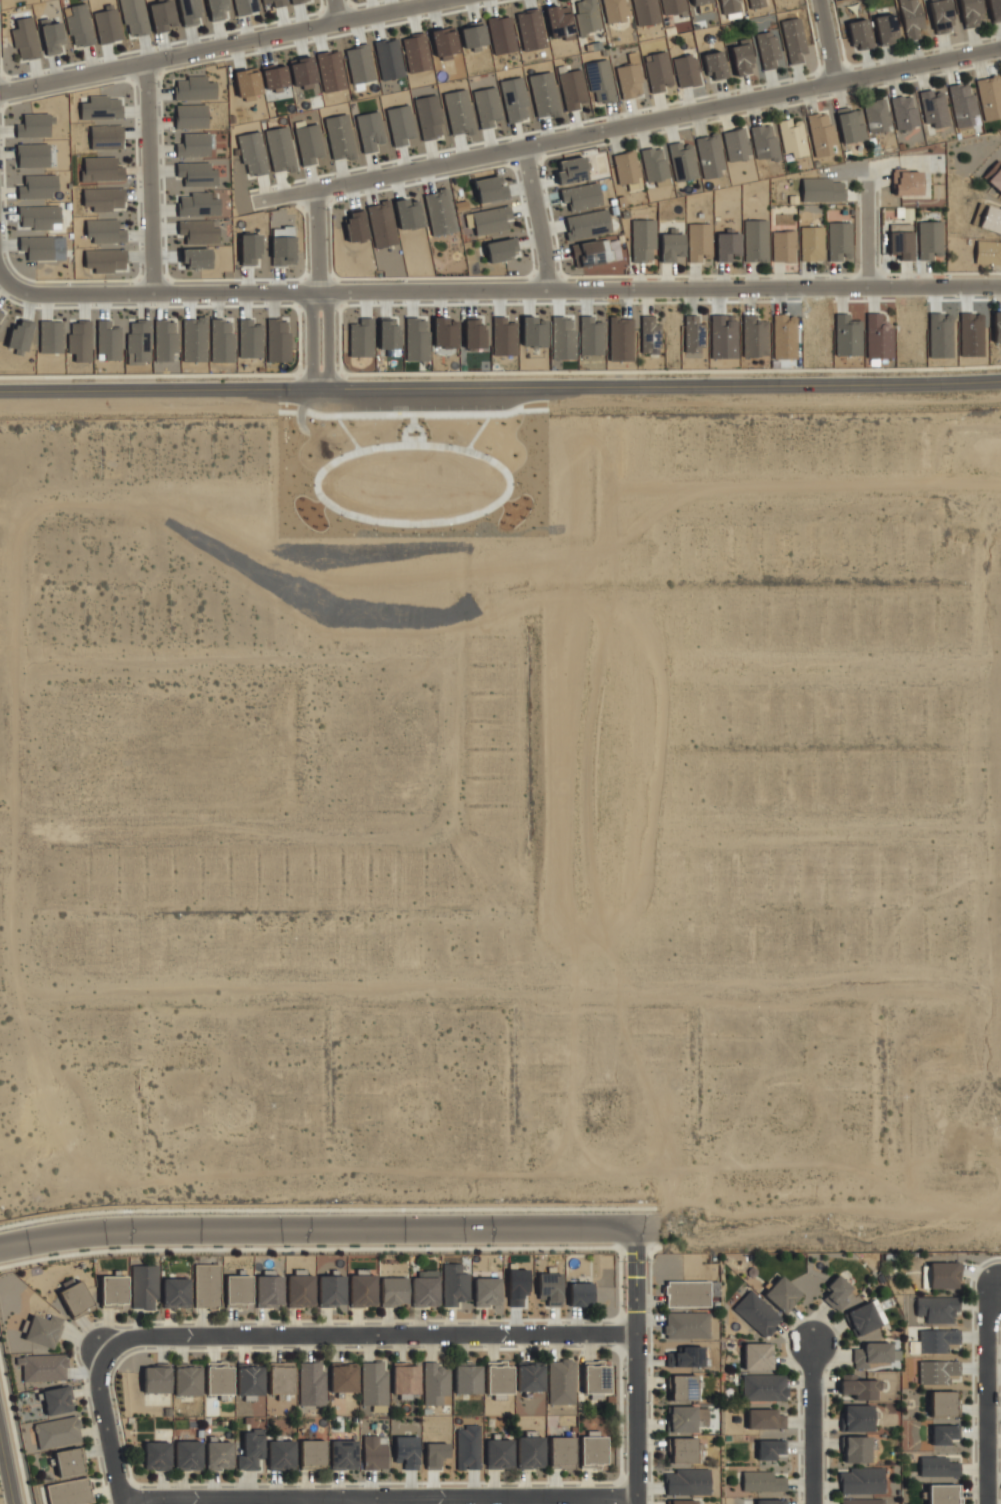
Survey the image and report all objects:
building: (297, 1)
building: (700, 1)
building: (275, 2)
building: (757, 3)
building: (245, 6)
building: (672, 6)
building: (727, 6)
building: (995, 9)
road: (338, 10)
building: (615, 10)
building: (189, 11)
building: (645, 12)
building: (971, 13)
building: (162, 15)
building: (941, 15)
building: (586, 16)
building: (134, 17)
building: (911, 18)
building: (559, 21)
building: (107, 25)
building: (79, 26)
building: (886, 29)
building: (530, 30)
building: (501, 34)
building: (860, 34)
building: (473, 35)
building: (51, 36)
building: (25, 38)
building: (795, 40)
road: (826, 41)
building: (443, 42)
road: (220, 47)
building: (769, 50)
building: (416, 52)
building: (742, 57)
building: (389, 58)
building: (359, 63)
building: (715, 65)
building: (330, 70)
building: (687, 70)
building: (659, 71)
building: (302, 72)
building: (275, 76)
building: (631, 77)
building: (600, 81)
building: (247, 83)
building: (571, 86)
building: (195, 88)
building: (544, 94)
building: (990, 96)
building: (514, 99)
building: (963, 104)
building: (487, 106)
building: (101, 108)
building: (934, 109)
building: (904, 111)
building: (458, 112)
building: (877, 115)
building: (191, 116)
building: (429, 117)
building: (400, 124)
building: (850, 124)
building: (35, 125)
road: (626, 125)
building: (370, 130)
building: (821, 133)
building: (340, 136)
building: (107, 137)
building: (792, 138)
building: (765, 141)
building: (309, 143)
building: (737, 144)
building: (193, 145)
building: (280, 149)
building: (252, 153)
building: (33, 155)
building: (710, 155)
building: (683, 160)
building: (655, 163)
building: (628, 168)
building: (102, 169)
building: (571, 170)
building: (198, 173)
building: (995, 175)
road: (149, 178)
building: (907, 182)
building: (39, 187)
building: (490, 189)
building: (823, 189)
building: (581, 196)
building: (103, 199)
building: (197, 204)
building: (439, 212)
building: (408, 213)
building: (39, 217)
road: (536, 218)
building: (490, 219)
building: (991, 219)
building: (381, 224)
building: (587, 224)
building: (355, 225)
building: (186, 227)
building: (104, 231)
road: (864, 234)
building: (205, 236)
building: (930, 238)
building: (644, 240)
building: (756, 240)
building: (839, 241)
building: (700, 242)
building: (812, 243)
building: (901, 244)
building: (671, 245)
building: (726, 245)
building: (282, 246)
building: (784, 246)
building: (37, 247)
building: (250, 248)
building: (501, 249)
building: (592, 252)
building: (988, 252)
building: (195, 258)
building: (105, 261)
road: (2, 277)
road: (320, 288)
road: (501, 290)
building: (2, 315)
building: (997, 328)
building: (533, 331)
building: (444, 332)
building: (473, 333)
building: (650, 333)
building: (388, 334)
building: (694, 334)
building: (847, 335)
building: (51, 336)
building: (590, 336)
building: (723, 336)
building: (754, 336)
building: (20, 337)
building: (503, 337)
building: (878, 337)
building: (361, 338)
building: (562, 338)
building: (194, 339)
building: (250, 339)
building: (277, 339)
building: (416, 339)
building: (620, 339)
building: (80, 340)
building: (138, 340)
building: (108, 341)
building: (221, 341)
building: (165, 342)
road: (500, 387)
park: (416, 470)
road: (96, 829)
road: (505, 938)
road: (199, 972)
road: (596, 976)
road: (985, 1034)
road: (442, 1120)
road: (832, 1226)
road: (330, 1229)
road: (636, 1245)
building: (943, 1275)
building: (455, 1285)
building: (208, 1286)
building: (518, 1287)
building: (713, 1287)
building: (145, 1288)
building: (550, 1288)
building: (300, 1289)
building: (331, 1289)
building: (362, 1290)
building: (425, 1290)
building: (113, 1291)
building: (239, 1291)
building: (393, 1291)
building: (488, 1291)
building: (268, 1292)
building: (685, 1293)
building: (836, 1293)
building: (176, 1294)
building: (580, 1294)
building: (782, 1294)
building: (76, 1300)
building: (937, 1308)
building: (878, 1311)
building: (756, 1313)
building: (863, 1318)
building: (686, 1325)
building: (43, 1332)
road: (368, 1334)
building: (937, 1340)
building: (873, 1353)
building: (758, 1356)
building: (688, 1357)
building: (43, 1369)
building: (937, 1371)
building: (343, 1377)
building: (531, 1377)
building: (187, 1379)
building: (500, 1379)
building: (596, 1379)
building: (467, 1380)
building: (155, 1381)
building: (219, 1381)
building: (280, 1381)
building: (406, 1381)
building: (250, 1382)
building: (562, 1382)
road: (635, 1382)
building: (436, 1384)
building: (312, 1385)
building: (373, 1386)
building: (682, 1387)
building: (764, 1387)
building: (858, 1387)
road: (987, 1394)
building: (57, 1402)
building: (943, 1403)
building: (687, 1418)
building: (857, 1418)
building: (765, 1419)
road: (813, 1425)
road: (108, 1426)
building: (944, 1433)
building: (57, 1434)
building: (469, 1447)
building: (770, 1449)
building: (856, 1449)
building: (593, 1450)
building: (683, 1450)
building: (252, 1451)
building: (406, 1452)
building: (531, 1452)
building: (562, 1452)
building: (376, 1453)
building: (313, 1454)
building: (344, 1454)
building: (500, 1454)
building: (157, 1455)
building: (188, 1455)
building: (282, 1455)
building: (435, 1455)
building: (218, 1457)
building: (69, 1464)
building: (938, 1467)
road: (7, 1469)
building: (861, 1480)
building: (687, 1481)
building: (763, 1481)
building: (70, 1493)
building: (944, 1494)
road: (379, 1499)
road: (375, 1501)
building: (770, 1501)
building: (862, 1501)
building: (682, 1502)

